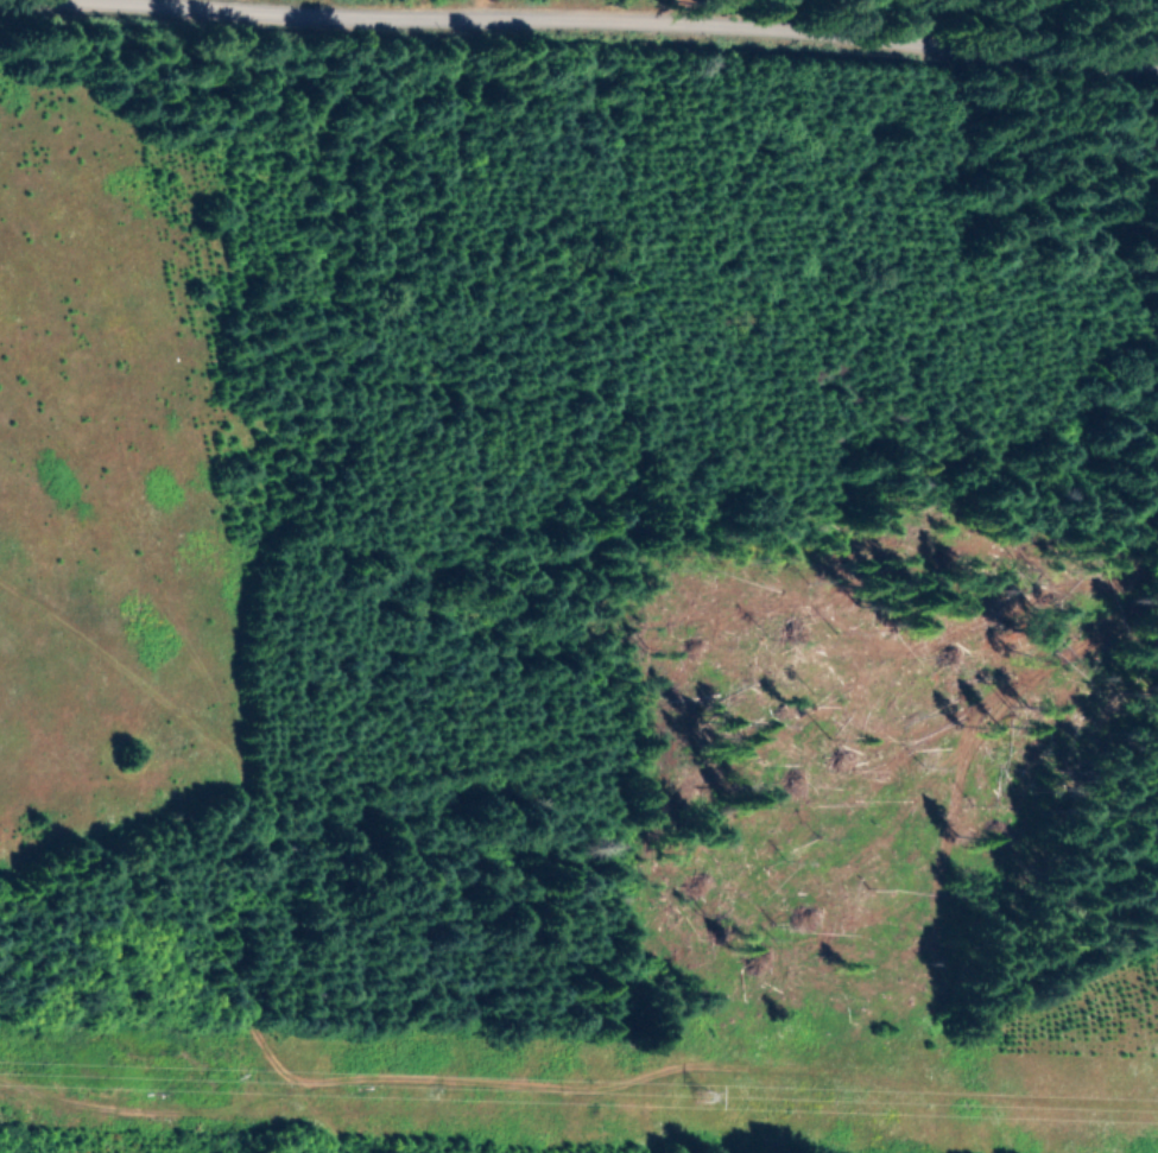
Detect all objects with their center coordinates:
road: (580, 15)
road: (950, 521)
road: (958, 837)
power tower: (691, 1081)
road: (829, 1133)

